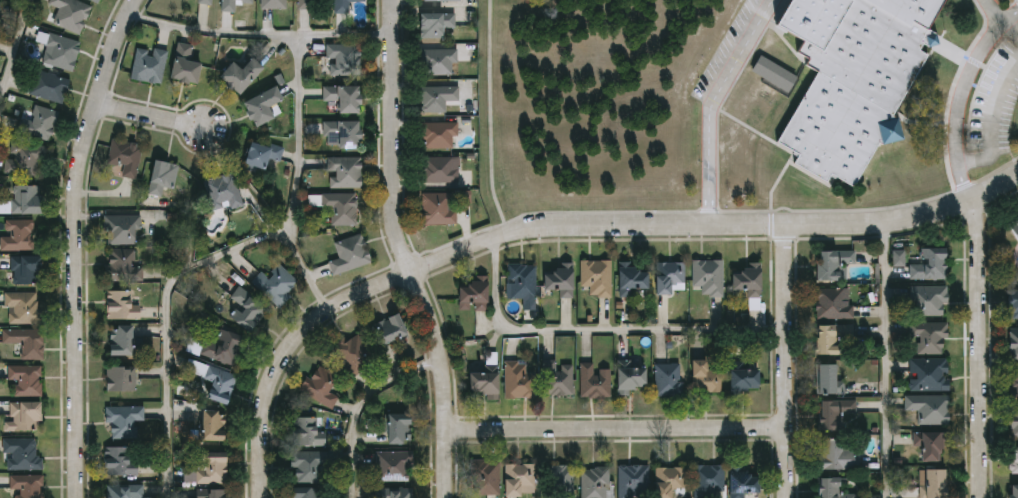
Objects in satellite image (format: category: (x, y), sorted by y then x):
building: (438, 0)
building: (97, 1)
building: (206, 1)
building: (275, 3)
building: (233, 4)
building: (306, 4)
building: (0, 5)
building: (343, 6)
road: (994, 10)
building: (72, 14)
park: (502, 14)
building: (439, 23)
road: (1011, 30)
road: (214, 32)
road: (15, 49)
building: (63, 50)
building: (346, 58)
building: (440, 60)
building: (187, 64)
building: (151, 65)
building: (245, 73)
building: (773, 74)
building: (852, 77)
building: (51, 85)
road: (960, 95)
building: (347, 96)
building: (440, 97)
parking lot: (996, 101)
road: (711, 103)
building: (267, 105)
road: (490, 110)
road: (158, 116)
road: (991, 118)
building: (41, 122)
road: (300, 130)
building: (347, 132)
building: (441, 133)
building: (264, 154)
building: (126, 156)
building: (27, 159)
building: (442, 169)
building: (347, 171)
building: (165, 175)
building: (225, 191)
building: (25, 200)
building: (339, 205)
building: (440, 208)
road: (567, 222)
building: (123, 228)
building: (1013, 228)
building: (19, 235)
road: (83, 244)
road: (409, 251)
building: (351, 253)
building: (898, 257)
building: (830, 264)
building: (927, 264)
building: (124, 265)
building: (27, 267)
building: (706, 275)
building: (599, 276)
building: (670, 276)
building: (635, 278)
building: (745, 279)
building: (564, 280)
building: (523, 283)
building: (278, 284)
building: (478, 294)
building: (926, 299)
building: (1012, 301)
building: (830, 303)
building: (123, 305)
building: (24, 307)
building: (248, 308)
road: (171, 324)
road: (598, 327)
building: (394, 329)
building: (927, 335)
building: (826, 336)
building: (27, 340)
building: (124, 340)
building: (1012, 342)
building: (220, 348)
road: (976, 348)
building: (355, 353)
road: (886, 359)
road: (788, 360)
building: (926, 374)
building: (632, 376)
building: (123, 377)
building: (702, 377)
building: (559, 378)
building: (738, 378)
building: (825, 379)
building: (27, 380)
building: (488, 380)
building: (521, 380)
building: (669, 381)
building: (596, 382)
building: (222, 383)
building: (1013, 383)
building: (323, 386)
road: (361, 406)
building: (927, 409)
building: (830, 412)
building: (26, 415)
building: (1013, 420)
building: (124, 422)
building: (214, 427)
building: (403, 427)
building: (309, 432)
road: (618, 433)
building: (927, 444)
building: (22, 454)
building: (834, 456)
building: (1013, 460)
building: (120, 461)
building: (309, 465)
building: (394, 466)
building: (212, 469)
building: (485, 478)
building: (559, 479)
building: (519, 480)
building: (631, 480)
building: (708, 480)
building: (670, 481)
building: (594, 482)
building: (741, 482)
building: (928, 483)
building: (29, 487)
building: (836, 490)
building: (125, 491)
building: (1014, 492)
building: (307, 493)
building: (396, 493)
building: (213, 494)

